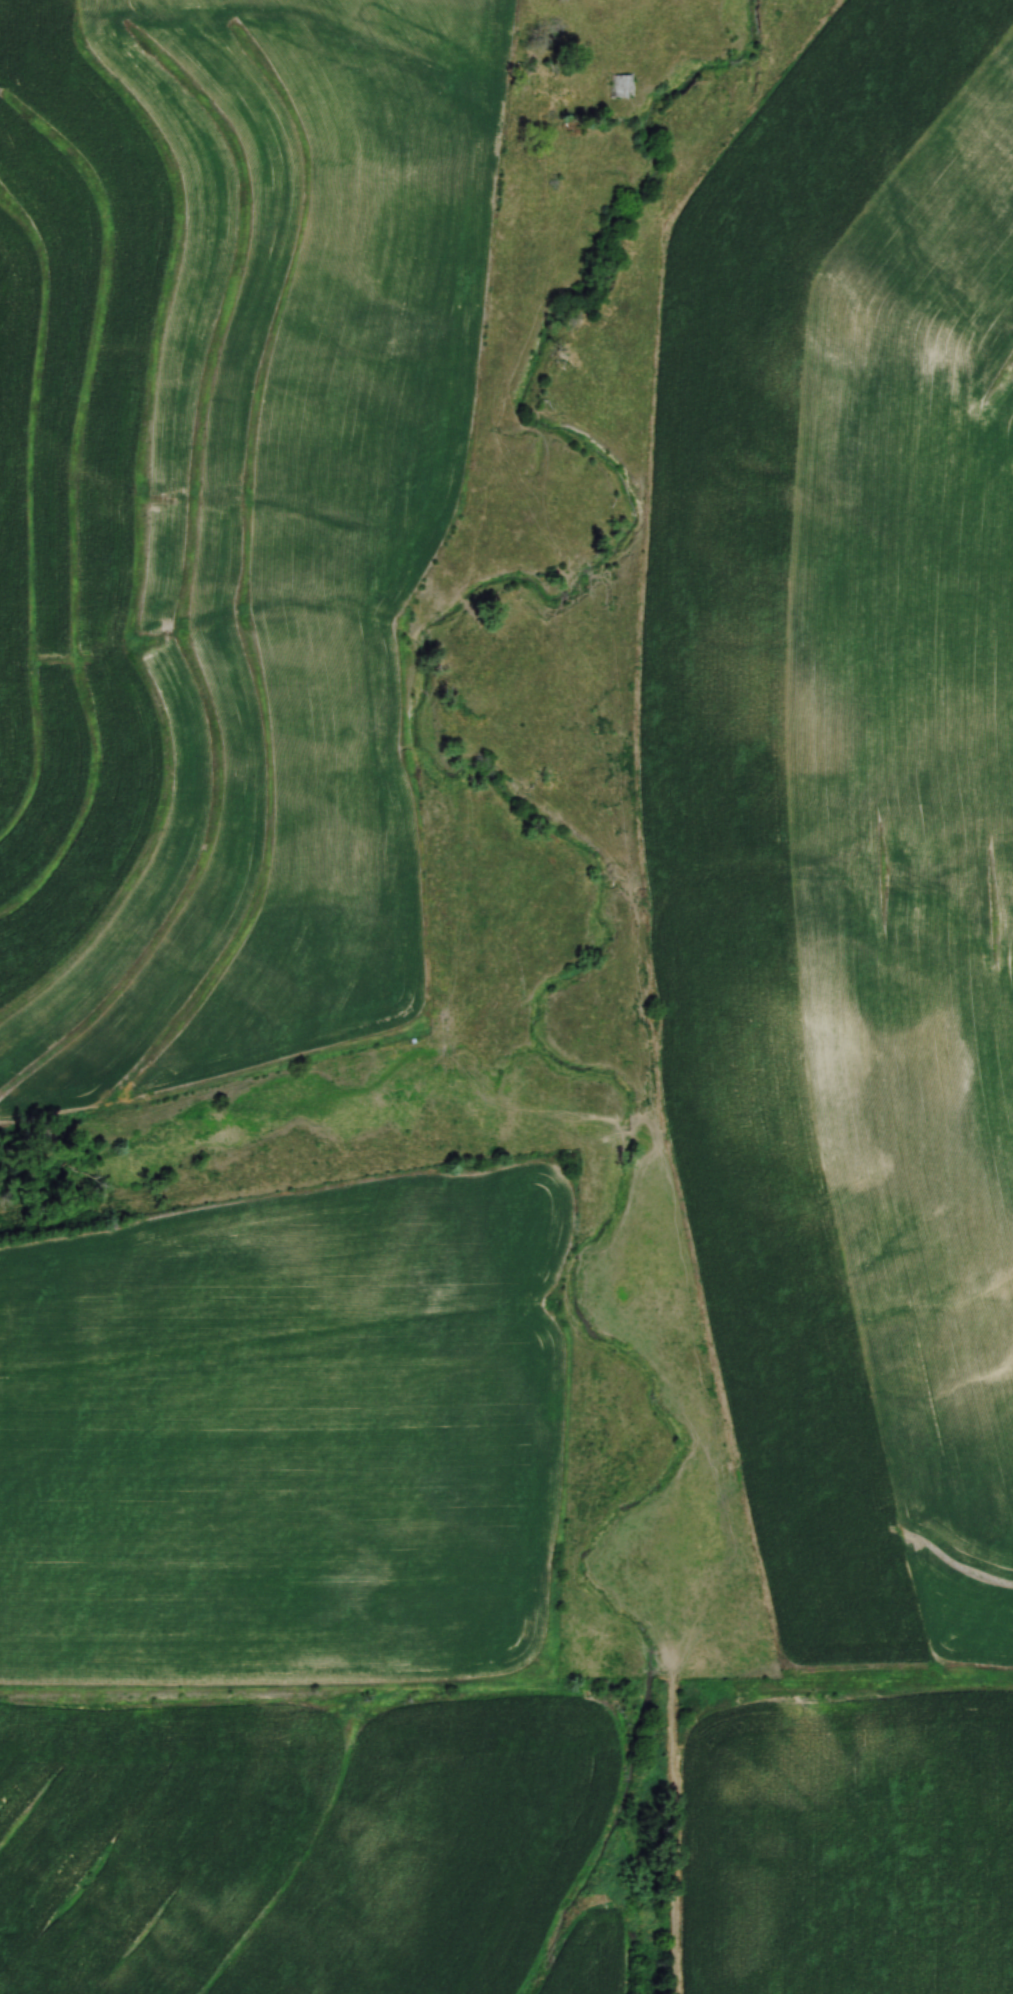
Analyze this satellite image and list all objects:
building: (616, 83)

